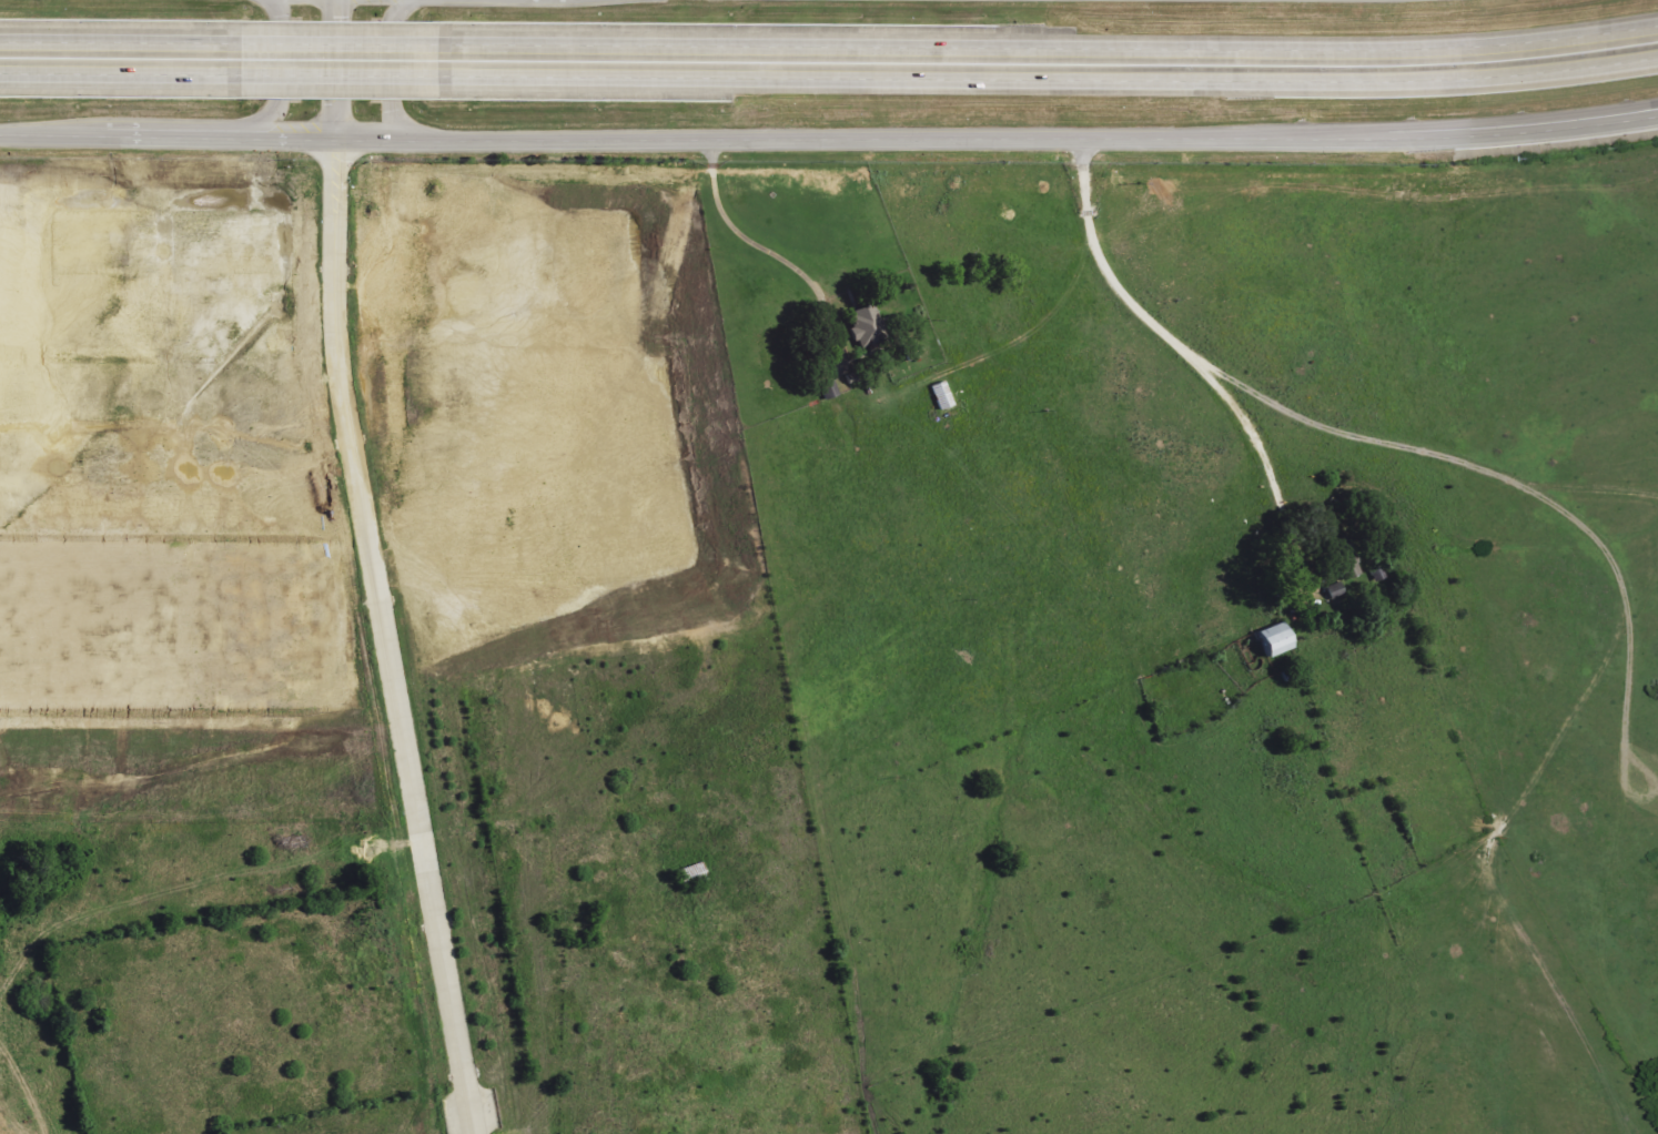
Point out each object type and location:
road: (120, 37)
road: (338, 38)
road: (1049, 45)
road: (334, 70)
road: (120, 79)
road: (340, 80)
road: (1049, 82)
road: (390, 83)
road: (279, 87)
road: (1586, 121)
road: (829, 139)
building: (210, 242)
building: (259, 242)
road: (767, 250)
road: (161, 287)
building: (867, 328)
road: (161, 333)
road: (223, 333)
road: (285, 335)
road: (1191, 361)
road: (170, 378)
road: (1415, 452)
road: (10, 458)
road: (55, 458)
road: (97, 458)
road: (140, 458)
road: (179, 459)
road: (219, 459)
road: (260, 460)
road: (305, 460)
road: (182, 539)
building: (1334, 590)
building: (91, 606)
road: (1629, 627)
road: (383, 639)
building: (1274, 640)
road: (198, 700)

